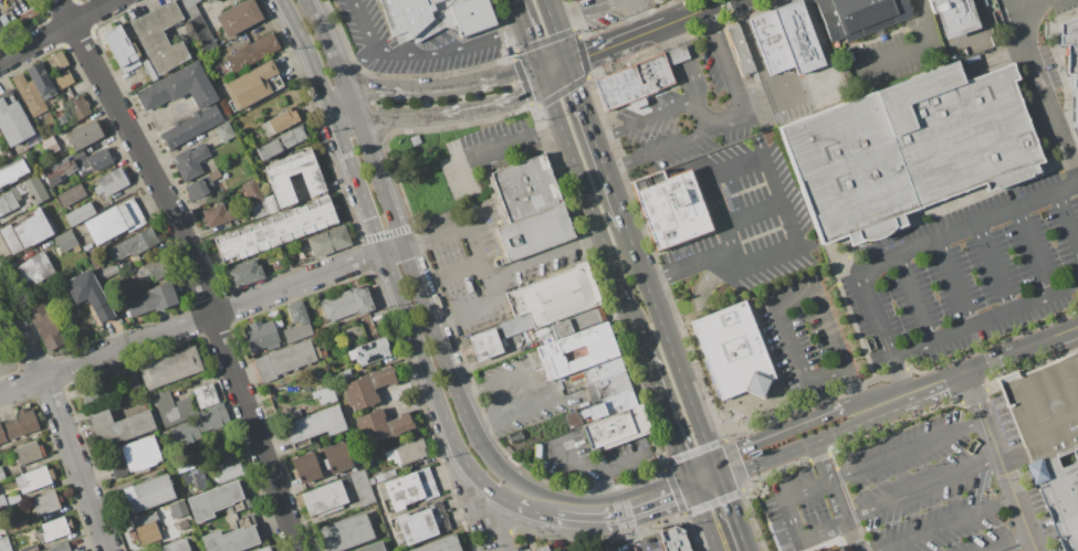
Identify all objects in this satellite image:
building: (653, 0)
building: (656, 0)
building: (210, 1)
road: (699, 11)
road: (520, 12)
road: (550, 13)
road: (590, 13)
building: (858, 15)
building: (239, 17)
building: (436, 17)
road: (639, 17)
building: (954, 17)
road: (954, 17)
road: (710, 19)
road: (927, 20)
building: (197, 23)
building: (0, 29)
road: (55, 30)
road: (512, 30)
building: (0, 31)
road: (674, 34)
building: (797, 36)
building: (160, 38)
road: (962, 38)
road: (819, 39)
building: (770, 42)
building: (1071, 42)
building: (234, 43)
road: (619, 43)
road: (532, 44)
road: (562, 45)
building: (739, 49)
building: (122, 50)
parking lot: (897, 52)
road: (681, 53)
building: (248, 54)
road: (754, 54)
road: (411, 56)
road: (893, 56)
road: (998, 59)
building: (57, 61)
road: (356, 64)
traffic signals: (540, 65)
road: (554, 65)
traffic signals: (569, 65)
building: (149, 70)
parking lot: (1040, 71)
road: (1064, 72)
road: (543, 74)
road: (558, 74)
road: (498, 76)
building: (41, 80)
building: (637, 80)
road: (690, 80)
building: (62, 81)
traffic signals: (547, 84)
road: (823, 84)
building: (252, 85)
parking lot: (824, 85)
road: (1044, 85)
building: (179, 87)
road: (401, 93)
road: (737, 93)
building: (29, 94)
building: (1076, 100)
road: (492, 102)
parking lot: (786, 102)
road: (555, 104)
road: (341, 105)
building: (79, 108)
road: (395, 113)
parking lot: (698, 113)
road: (344, 114)
road: (660, 114)
road: (701, 115)
building: (13, 119)
building: (283, 120)
road: (336, 123)
building: (190, 127)
road: (548, 130)
building: (224, 131)
road: (609, 134)
building: (84, 135)
building: (282, 142)
road: (672, 145)
building: (46, 147)
road: (598, 147)
building: (908, 149)
road: (766, 151)
road: (480, 156)
building: (91, 160)
road: (1069, 160)
building: (191, 161)
road: (621, 163)
building: (59, 170)
building: (12, 173)
building: (214, 174)
building: (279, 178)
building: (111, 182)
building: (198, 188)
building: (220, 190)
building: (252, 191)
building: (71, 194)
building: (10, 195)
building: (271, 203)
building: (670, 208)
building: (260, 209)
building: (530, 210)
building: (80, 213)
building: (218, 215)
road: (754, 215)
parking lot: (745, 218)
road: (1068, 218)
building: (113, 221)
building: (275, 230)
building: (27, 231)
road: (891, 232)
road: (603, 236)
building: (65, 240)
road: (592, 240)
building: (328, 241)
road: (415, 243)
building: (133, 244)
road: (896, 245)
building: (87, 246)
building: (75, 248)
road: (391, 250)
road: (401, 251)
road: (1036, 252)
road: (875, 253)
road: (910, 253)
road: (481, 262)
road: (534, 262)
road: (700, 264)
road: (193, 267)
road: (996, 267)
building: (34, 268)
building: (102, 268)
building: (154, 269)
building: (242, 273)
parking lot: (969, 276)
road: (658, 278)
road: (956, 283)
building: (87, 294)
building: (554, 296)
building: (151, 299)
road: (917, 299)
building: (346, 304)
road: (779, 306)
road: (442, 319)
road: (986, 319)
road: (190, 320)
building: (297, 322)
building: (578, 322)
building: (515, 325)
building: (45, 326)
building: (261, 336)
parking lot: (805, 338)
building: (484, 345)
road: (993, 348)
road: (673, 350)
building: (369, 351)
building: (576, 351)
building: (734, 351)
building: (285, 360)
road: (996, 367)
building: (169, 368)
building: (603, 370)
road: (971, 370)
road: (898, 372)
road: (1033, 372)
road: (522, 375)
building: (575, 375)
road: (873, 380)
building: (130, 381)
building: (607, 386)
building: (367, 388)
road: (433, 388)
road: (856, 389)
road: (851, 390)
building: (96, 393)
road: (471, 393)
building: (324, 394)
road: (974, 395)
building: (618, 402)
building: (1049, 406)
road: (530, 409)
road: (836, 410)
building: (594, 411)
building: (190, 414)
road: (669, 416)
road: (786, 416)
building: (573, 418)
road: (60, 422)
building: (18, 425)
building: (380, 425)
road: (482, 425)
building: (118, 426)
building: (314, 426)
building: (617, 427)
road: (842, 432)
building: (515, 436)
road: (852, 442)
road: (761, 443)
building: (28, 452)
building: (407, 452)
road: (909, 452)
building: (133, 456)
building: (221, 457)
building: (336, 457)
road: (1002, 460)
road: (576, 463)
road: (767, 463)
road: (663, 465)
road: (1036, 467)
building: (305, 468)
road: (601, 468)
road: (1044, 468)
building: (229, 471)
traffic signals: (719, 473)
building: (1, 474)
building: (388, 474)
road: (707, 478)
building: (33, 479)
building: (376, 479)
traffic signals: (694, 484)
building: (363, 487)
parking lot: (949, 487)
building: (408, 488)
road: (923, 489)
building: (149, 492)
road: (660, 497)
road: (837, 497)
building: (324, 498)
building: (2, 501)
building: (218, 501)
road: (537, 501)
building: (1066, 502)
building: (45, 504)
building: (178, 509)
road: (732, 511)
road: (592, 512)
parking lot: (799, 512)
building: (373, 515)
road: (707, 517)
road: (502, 521)
road: (795, 521)
building: (184, 524)
building: (421, 524)
road: (951, 524)
building: (19, 526)
building: (55, 528)
building: (146, 529)
road: (632, 530)
building: (346, 532)
building: (234, 537)
building: (673, 539)
road: (1014, 543)
building: (4, 544)
building: (440, 544)
parking lot: (641, 544)
building: (176, 545)
building: (30, 548)
building: (60, 548)
building: (371, 548)
building: (544, 548)
building: (263, 549)
building: (604, 549)
building: (80, 550)
building: (81, 550)
building: (562, 550)

